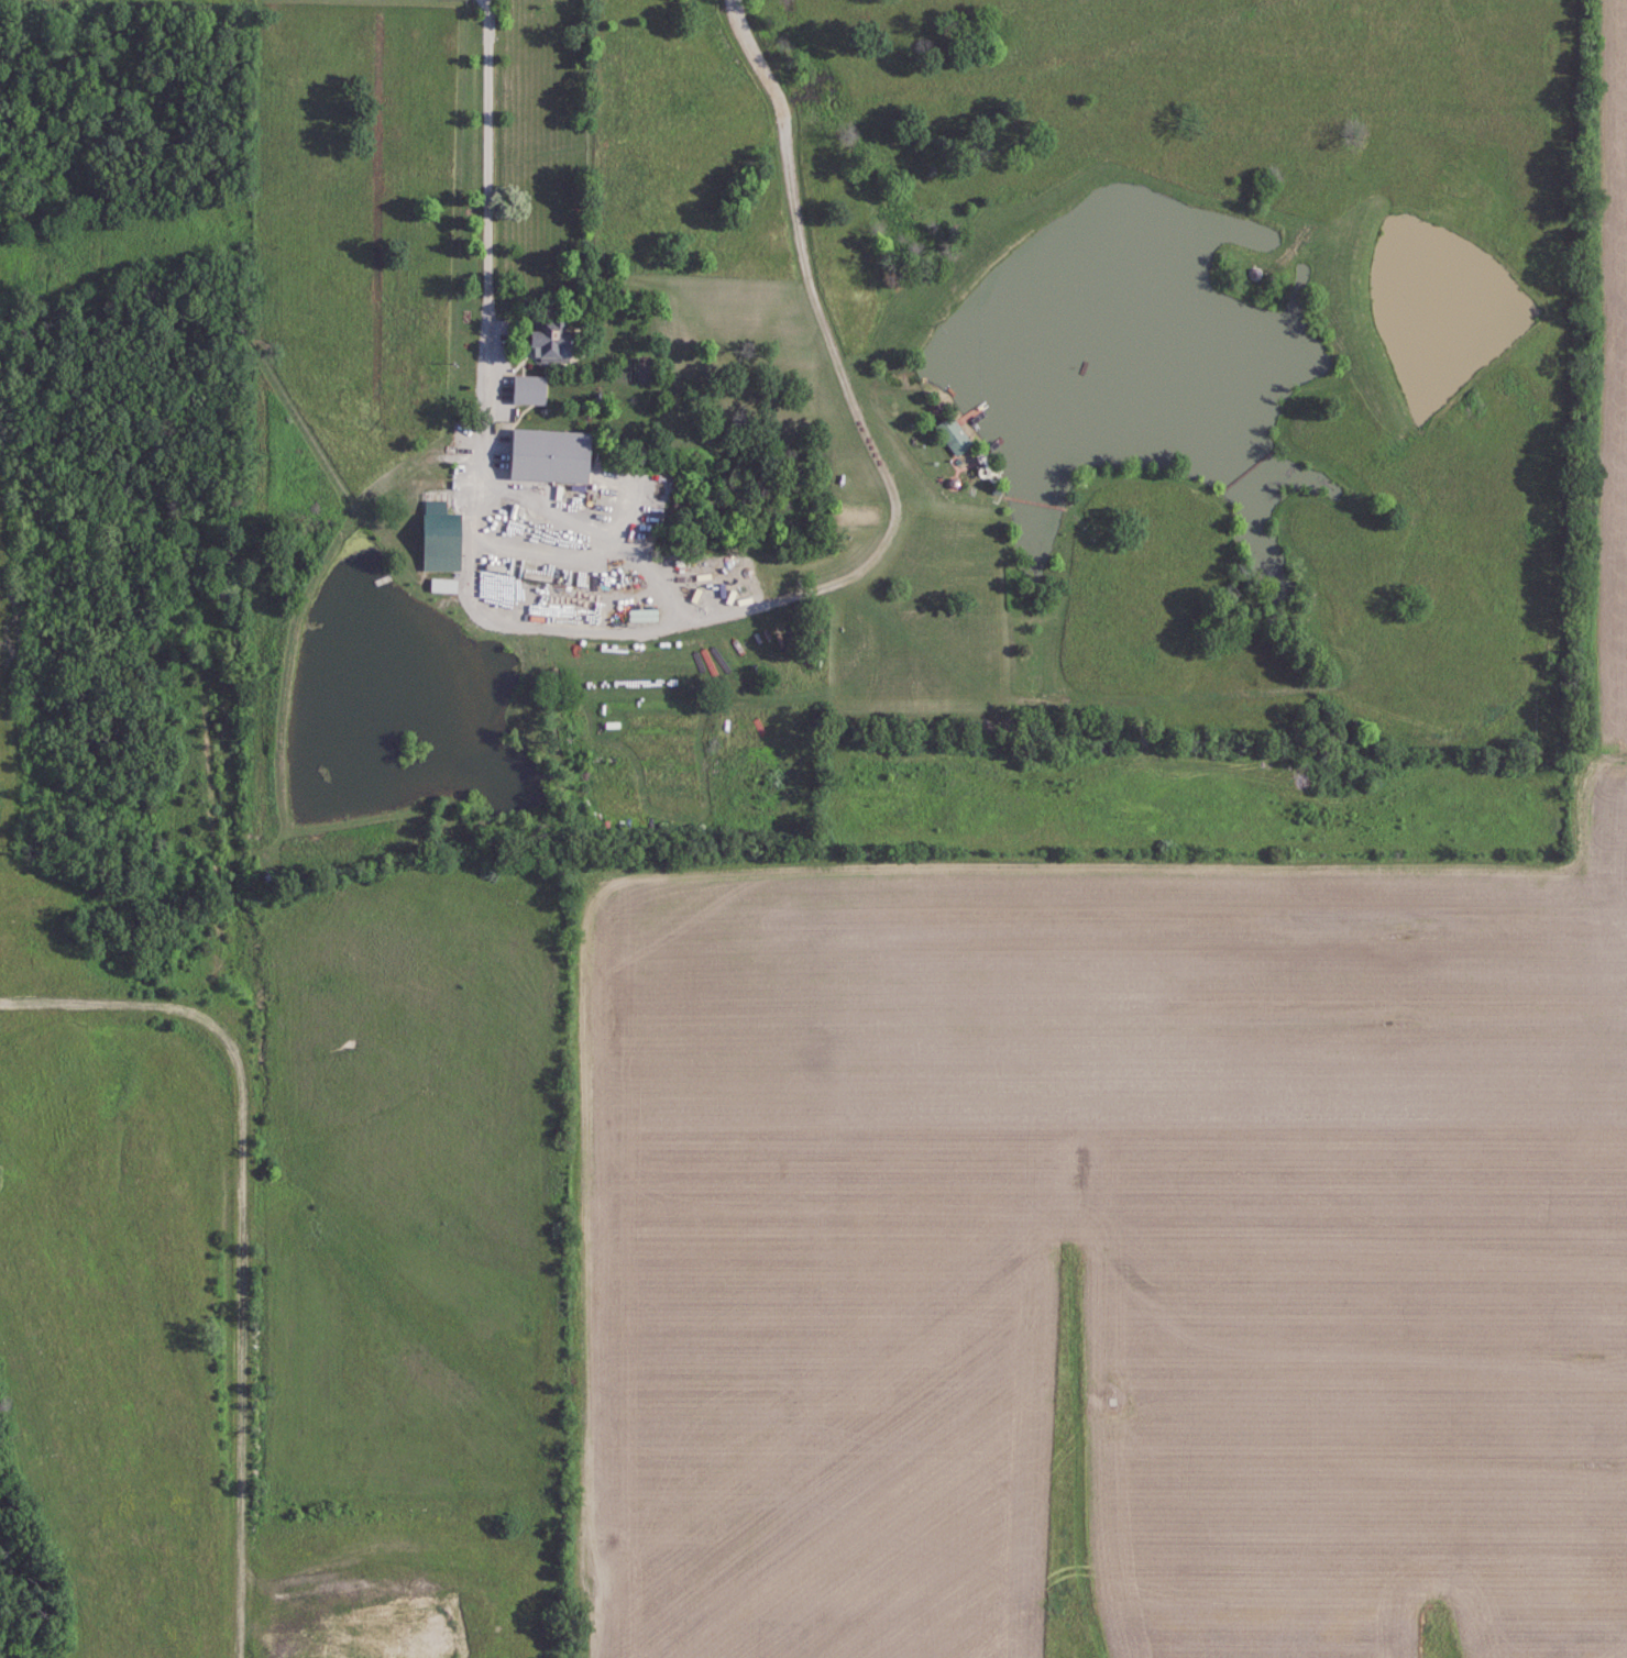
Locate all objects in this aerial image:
building: (548, 340)
building: (527, 389)
building: (952, 435)
building: (547, 455)
building: (438, 539)
building: (641, 615)
road: (670, 621)

